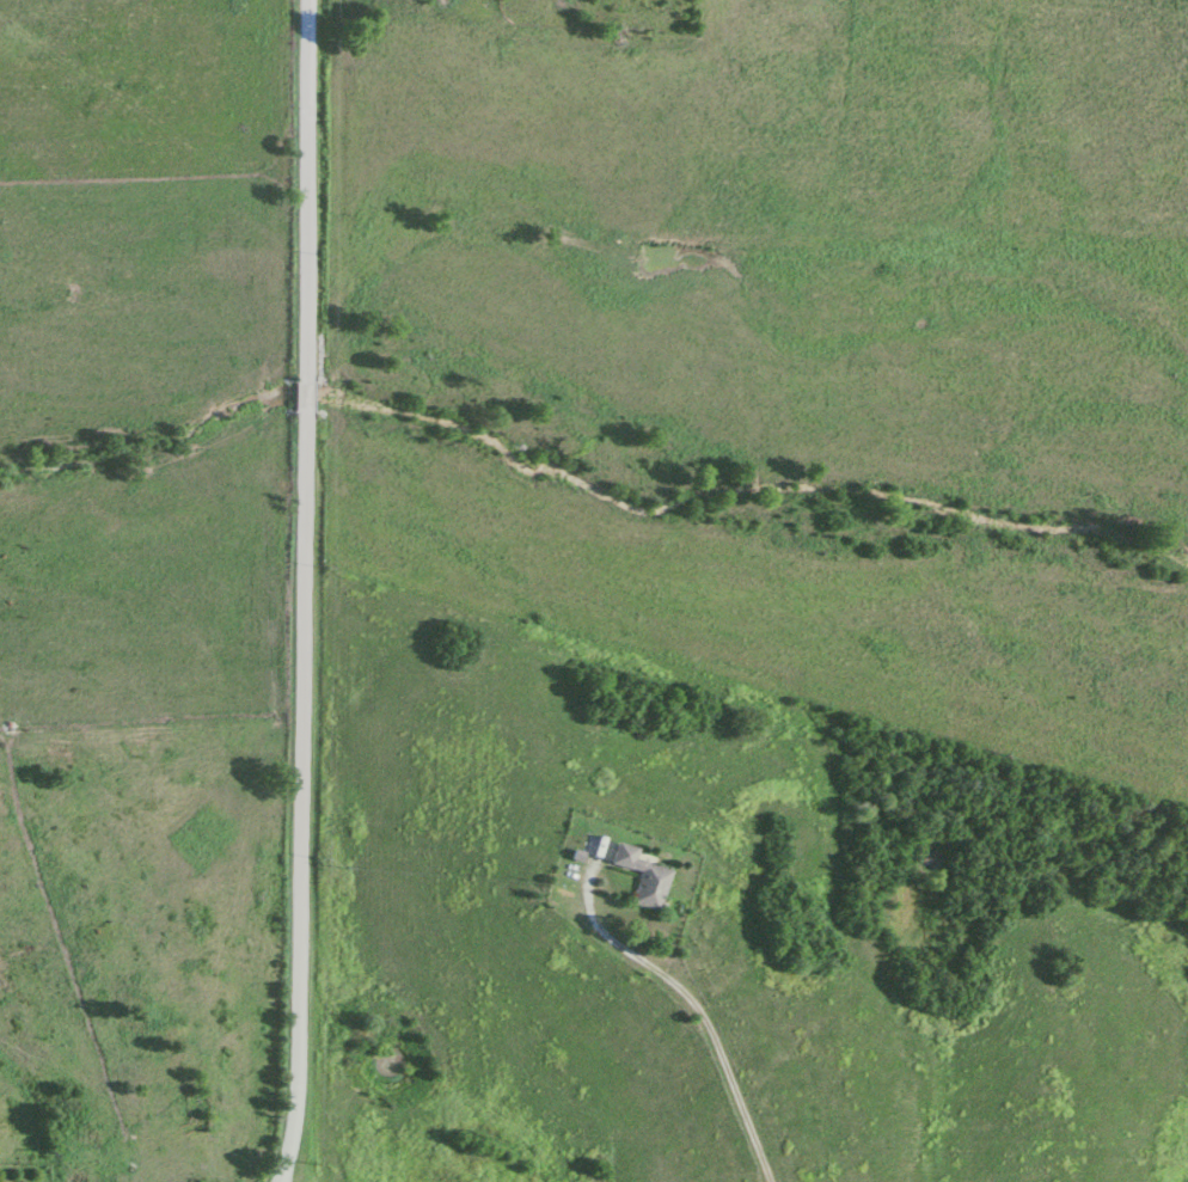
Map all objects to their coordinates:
road: (300, 592)
building: (649, 888)
road: (704, 1031)

